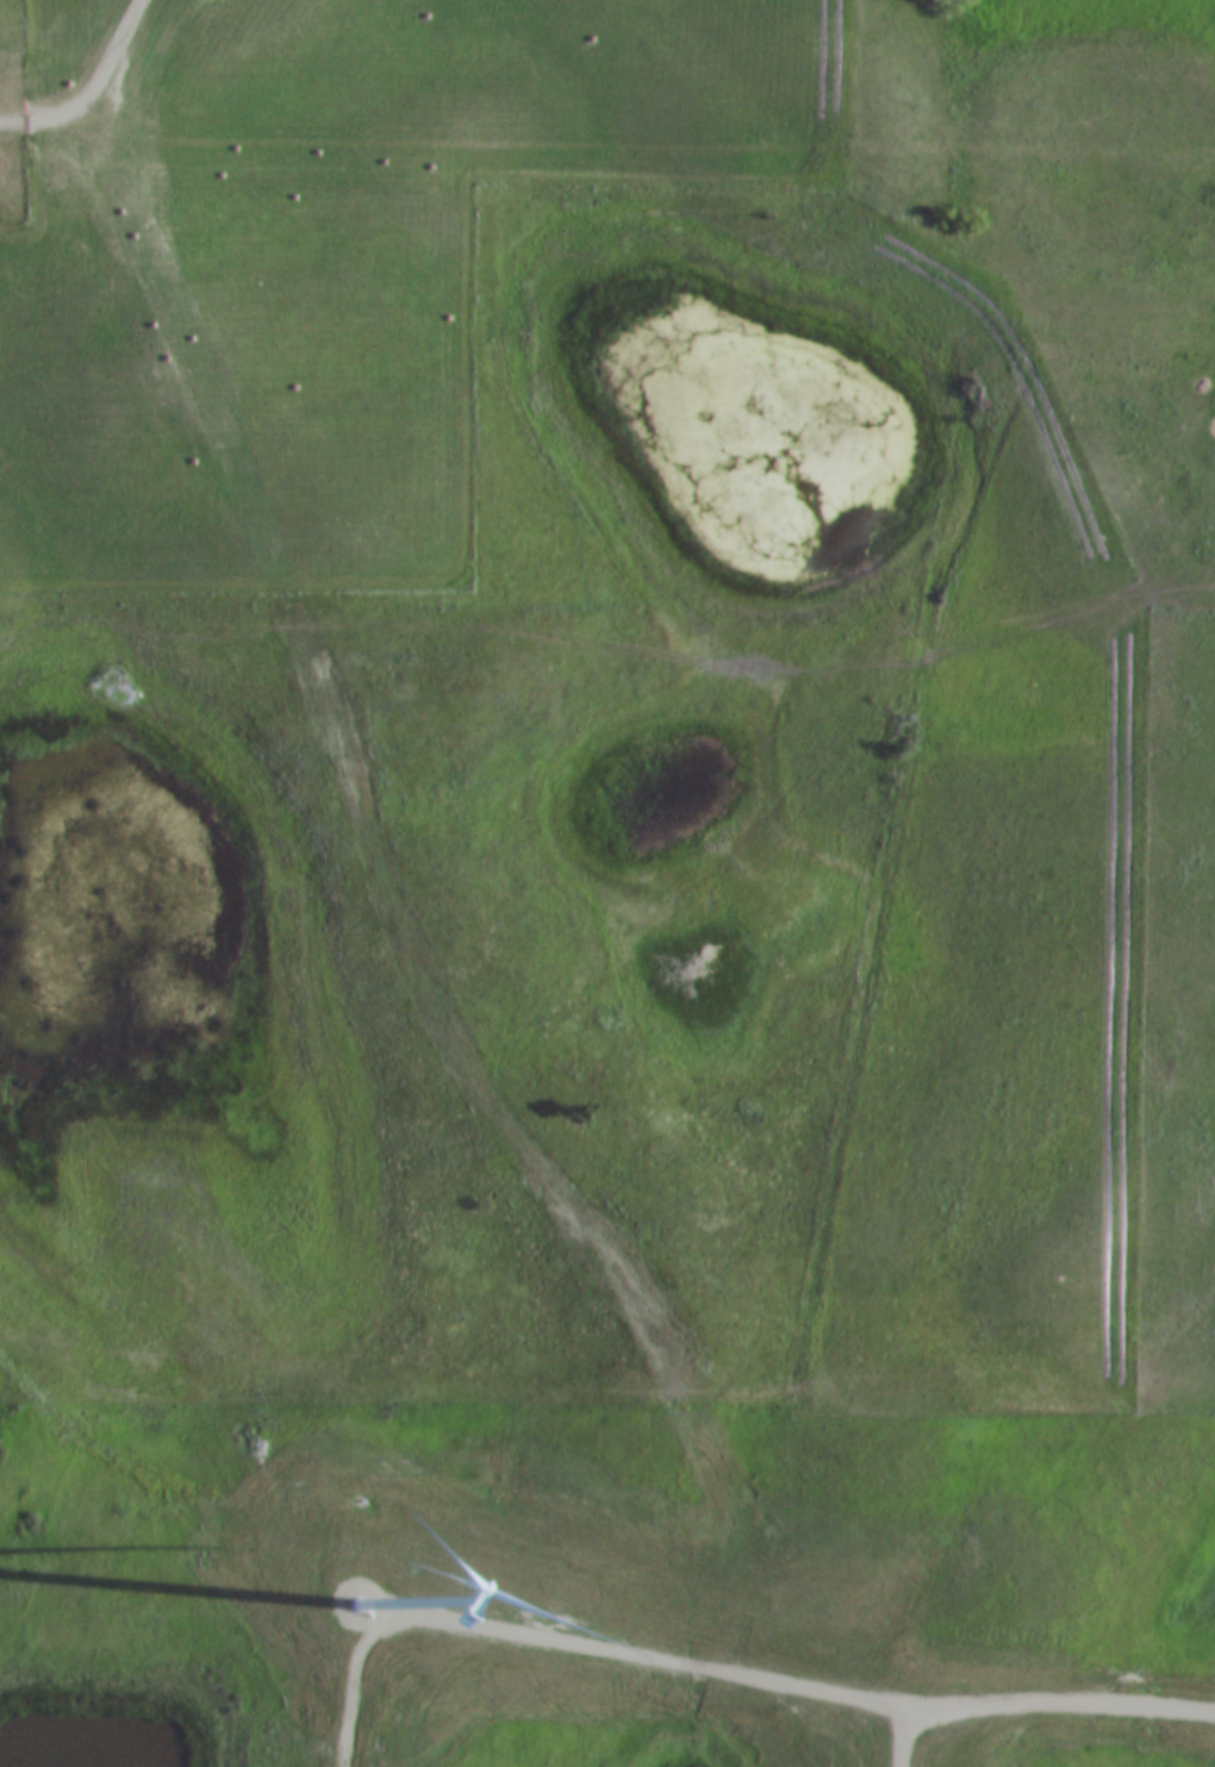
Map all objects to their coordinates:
road: (94, 87)
wind turbine: (349, 1604)
road: (1032, 1723)

